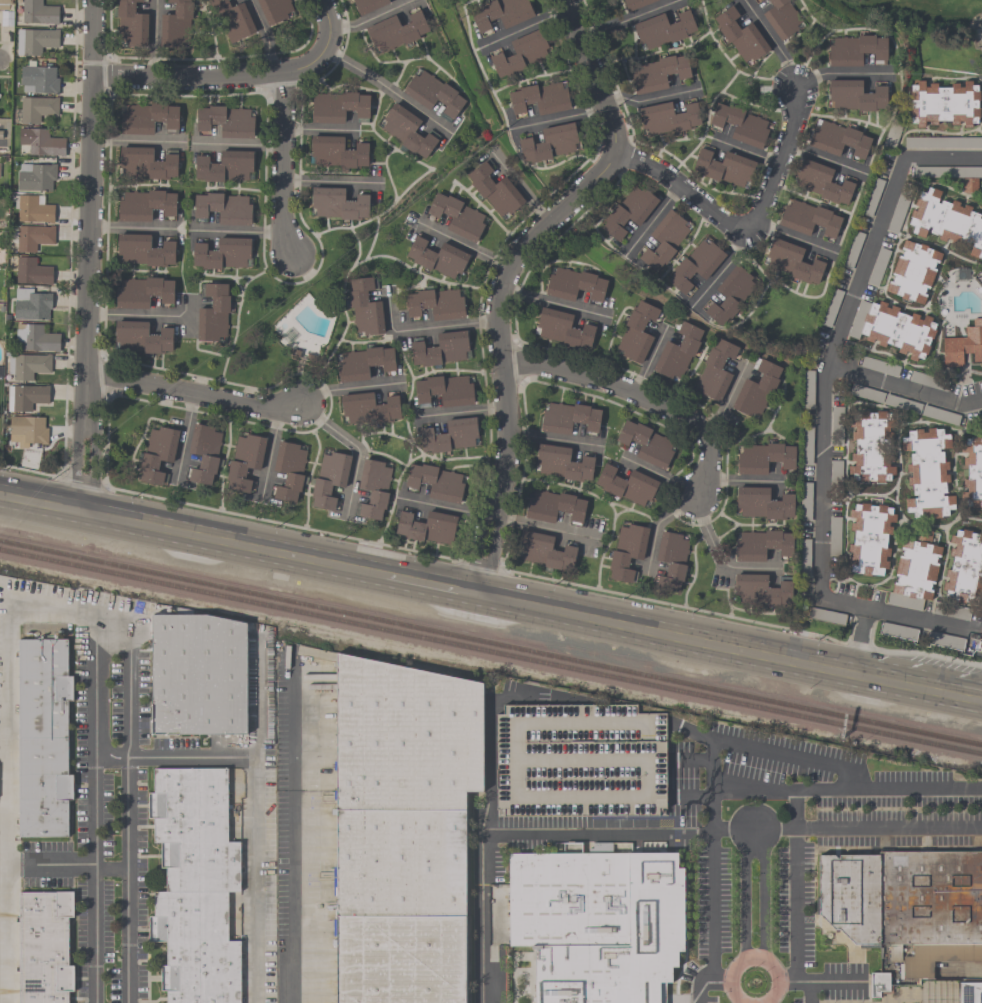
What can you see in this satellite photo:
building: (759, 0)
building: (4, 4)
building: (635, 4)
building: (367, 5)
building: (275, 10)
building: (38, 12)
building: (500, 13)
road: (371, 17)
road: (626, 18)
building: (781, 18)
building: (233, 19)
park: (928, 20)
road: (326, 21)
building: (130, 24)
building: (176, 25)
road: (522, 26)
building: (663, 29)
building: (395, 31)
building: (740, 35)
road: (266, 37)
road: (154, 38)
building: (35, 40)
road: (771, 40)
building: (855, 50)
building: (520, 53)
road: (594, 72)
building: (659, 72)
road: (840, 73)
road: (214, 75)
building: (38, 79)
road: (386, 90)
building: (433, 93)
building: (855, 95)
road: (651, 96)
building: (540, 98)
building: (943, 103)
building: (337, 106)
building: (35, 108)
road: (558, 115)
building: (147, 118)
building: (667, 118)
building: (225, 121)
building: (740, 124)
road: (320, 129)
building: (407, 130)
building: (838, 139)
building: (2, 140)
building: (40, 141)
road: (136, 141)
building: (549, 143)
road: (238, 144)
road: (741, 148)
building: (337, 152)
road: (822, 158)
building: (147, 162)
road: (283, 164)
building: (224, 166)
building: (724, 167)
building: (35, 176)
road: (332, 181)
road: (522, 182)
building: (822, 182)
building: (969, 185)
building: (494, 189)
road: (88, 203)
building: (337, 203)
building: (145, 205)
building: (223, 208)
building: (33, 209)
building: (628, 211)
building: (457, 216)
building: (808, 218)
road: (651, 221)
building: (947, 221)
road: (134, 226)
road: (746, 227)
road: (236, 230)
building: (31, 237)
road: (789, 237)
building: (664, 240)
road: (467, 244)
building: (143, 251)
building: (223, 252)
building: (437, 257)
building: (792, 261)
building: (695, 265)
building: (31, 271)
road: (718, 271)
building: (913, 271)
building: (574, 285)
building: (142, 291)
building: (731, 294)
building: (436, 303)
building: (31, 304)
road: (560, 305)
building: (364, 307)
building: (213, 314)
road: (149, 315)
road: (427, 329)
building: (562, 329)
building: (897, 329)
building: (636, 332)
road: (836, 334)
building: (35, 338)
building: (141, 338)
building: (963, 345)
building: (440, 349)
road: (501, 351)
building: (677, 353)
road: (650, 358)
building: (364, 363)
building: (27, 366)
building: (715, 370)
building: (929, 381)
road: (349, 386)
building: (756, 388)
road: (902, 389)
building: (444, 390)
road: (195, 395)
building: (25, 396)
road: (639, 397)
road: (727, 398)
building: (368, 408)
building: (920, 410)
road: (464, 412)
building: (568, 418)
building: (27, 430)
building: (449, 435)
road: (183, 439)
road: (555, 440)
building: (646, 443)
building: (871, 446)
road: (357, 451)
building: (157, 453)
building: (203, 453)
road: (269, 453)
road: (76, 456)
road: (91, 458)
building: (763, 458)
building: (244, 461)
building: (563, 463)
building: (288, 470)
road: (30, 472)
building: (972, 472)
building: (927, 473)
road: (657, 474)
building: (329, 478)
road: (742, 480)
road: (81, 481)
building: (435, 482)
building: (626, 484)
building: (373, 488)
building: (763, 503)
building: (554, 506)
road: (448, 508)
road: (654, 524)
road: (543, 527)
building: (427, 528)
road: (192, 534)
building: (869, 538)
building: (761, 545)
building: (544, 551)
building: (626, 552)
road: (715, 554)
building: (671, 561)
building: (916, 565)
building: (964, 568)
road: (541, 578)
road: (430, 585)
building: (760, 590)
road: (844, 603)
road: (920, 619)
road: (109, 629)
road: (664, 635)
road: (859, 641)
railway: (490, 644)
railway: (490, 655)
building: (198, 673)
road: (917, 687)
road: (290, 720)
road: (491, 733)
building: (43, 737)
road: (7, 748)
road: (174, 757)
road: (806, 759)
building: (579, 761)
parking lot: (579, 761)
road: (254, 819)
building: (403, 830)
road: (731, 832)
road: (50, 865)
road: (111, 870)
building: (195, 885)
road: (743, 895)
road: (765, 896)
road: (290, 897)
building: (903, 898)
road: (710, 918)
road: (481, 919)
road: (797, 919)
building: (598, 924)
building: (45, 946)
road: (754, 959)
road: (717, 982)
road: (788, 982)
building: (970, 992)

